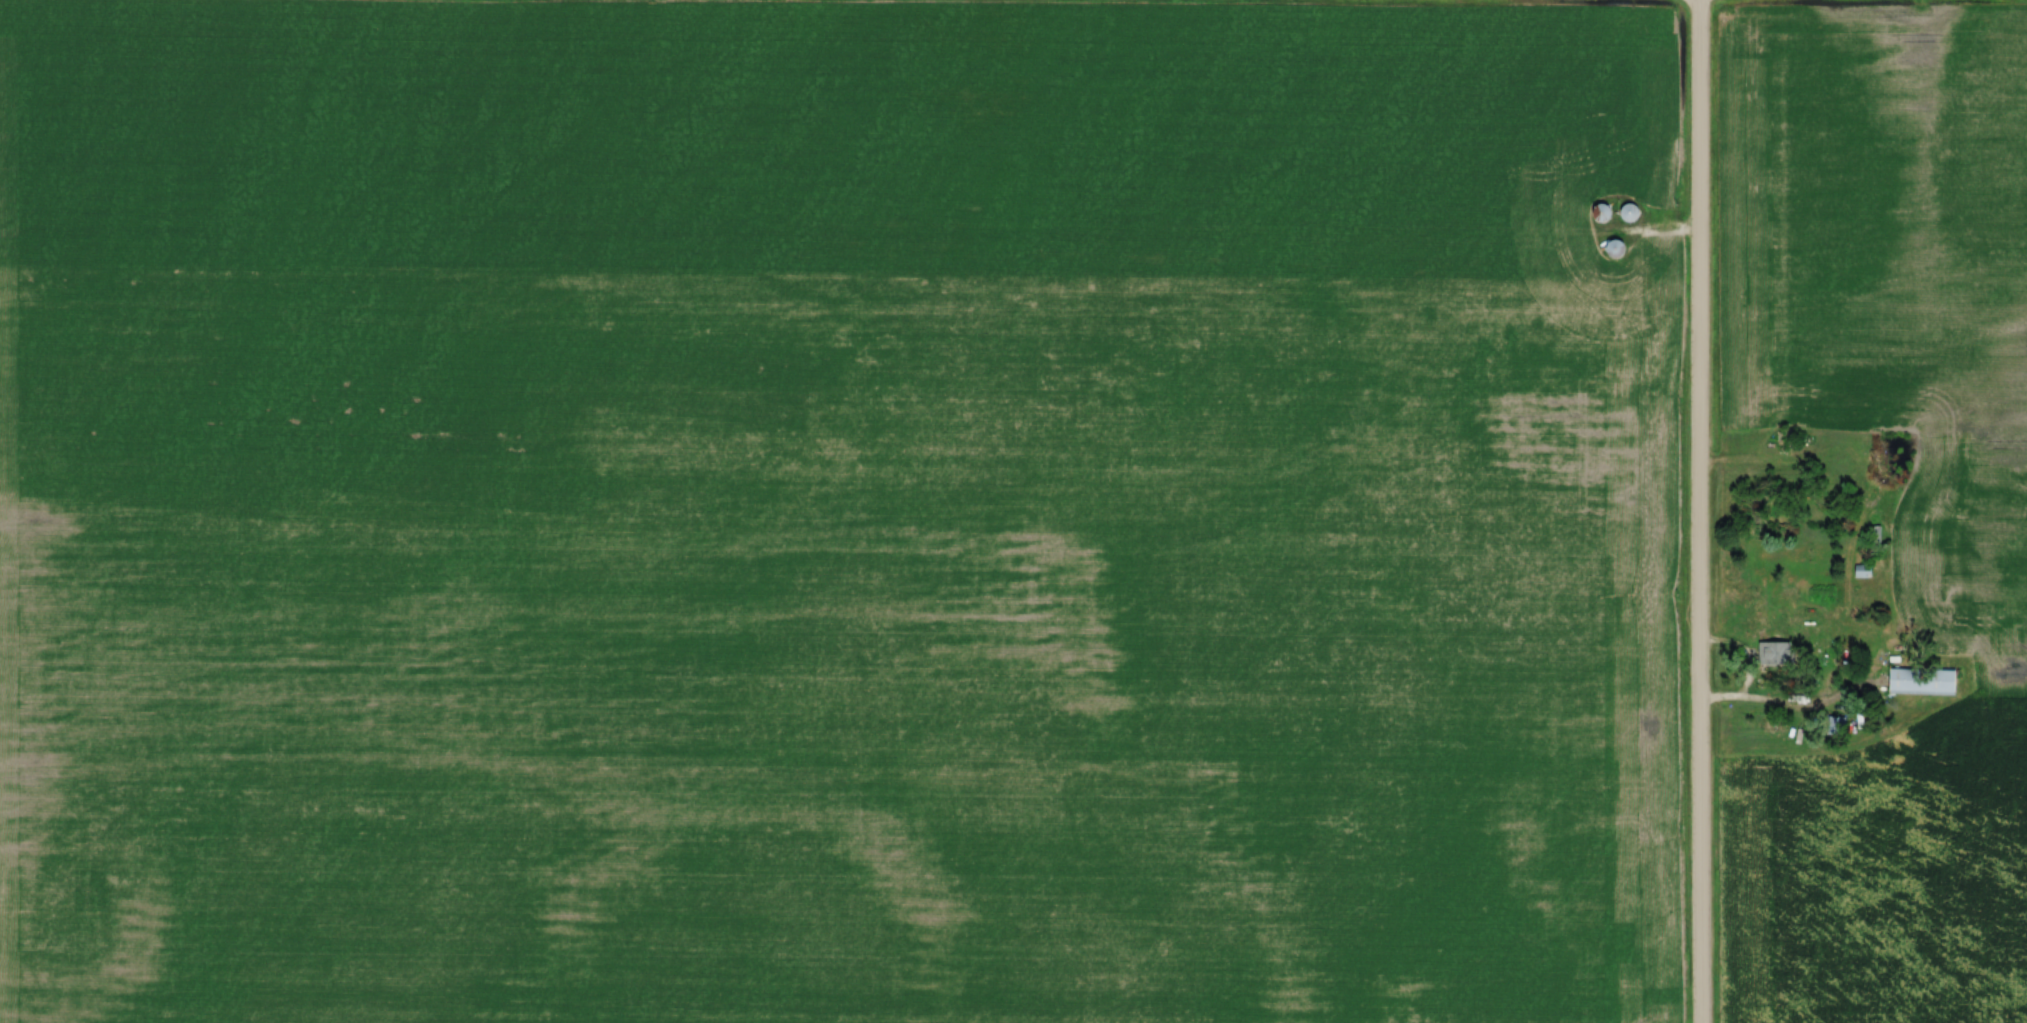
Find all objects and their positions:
building: (1603, 213)
building: (1617, 249)
road: (1697, 511)
building: (1860, 568)
building: (1769, 652)
building: (1916, 679)
road: (1765, 684)
building: (1834, 724)

